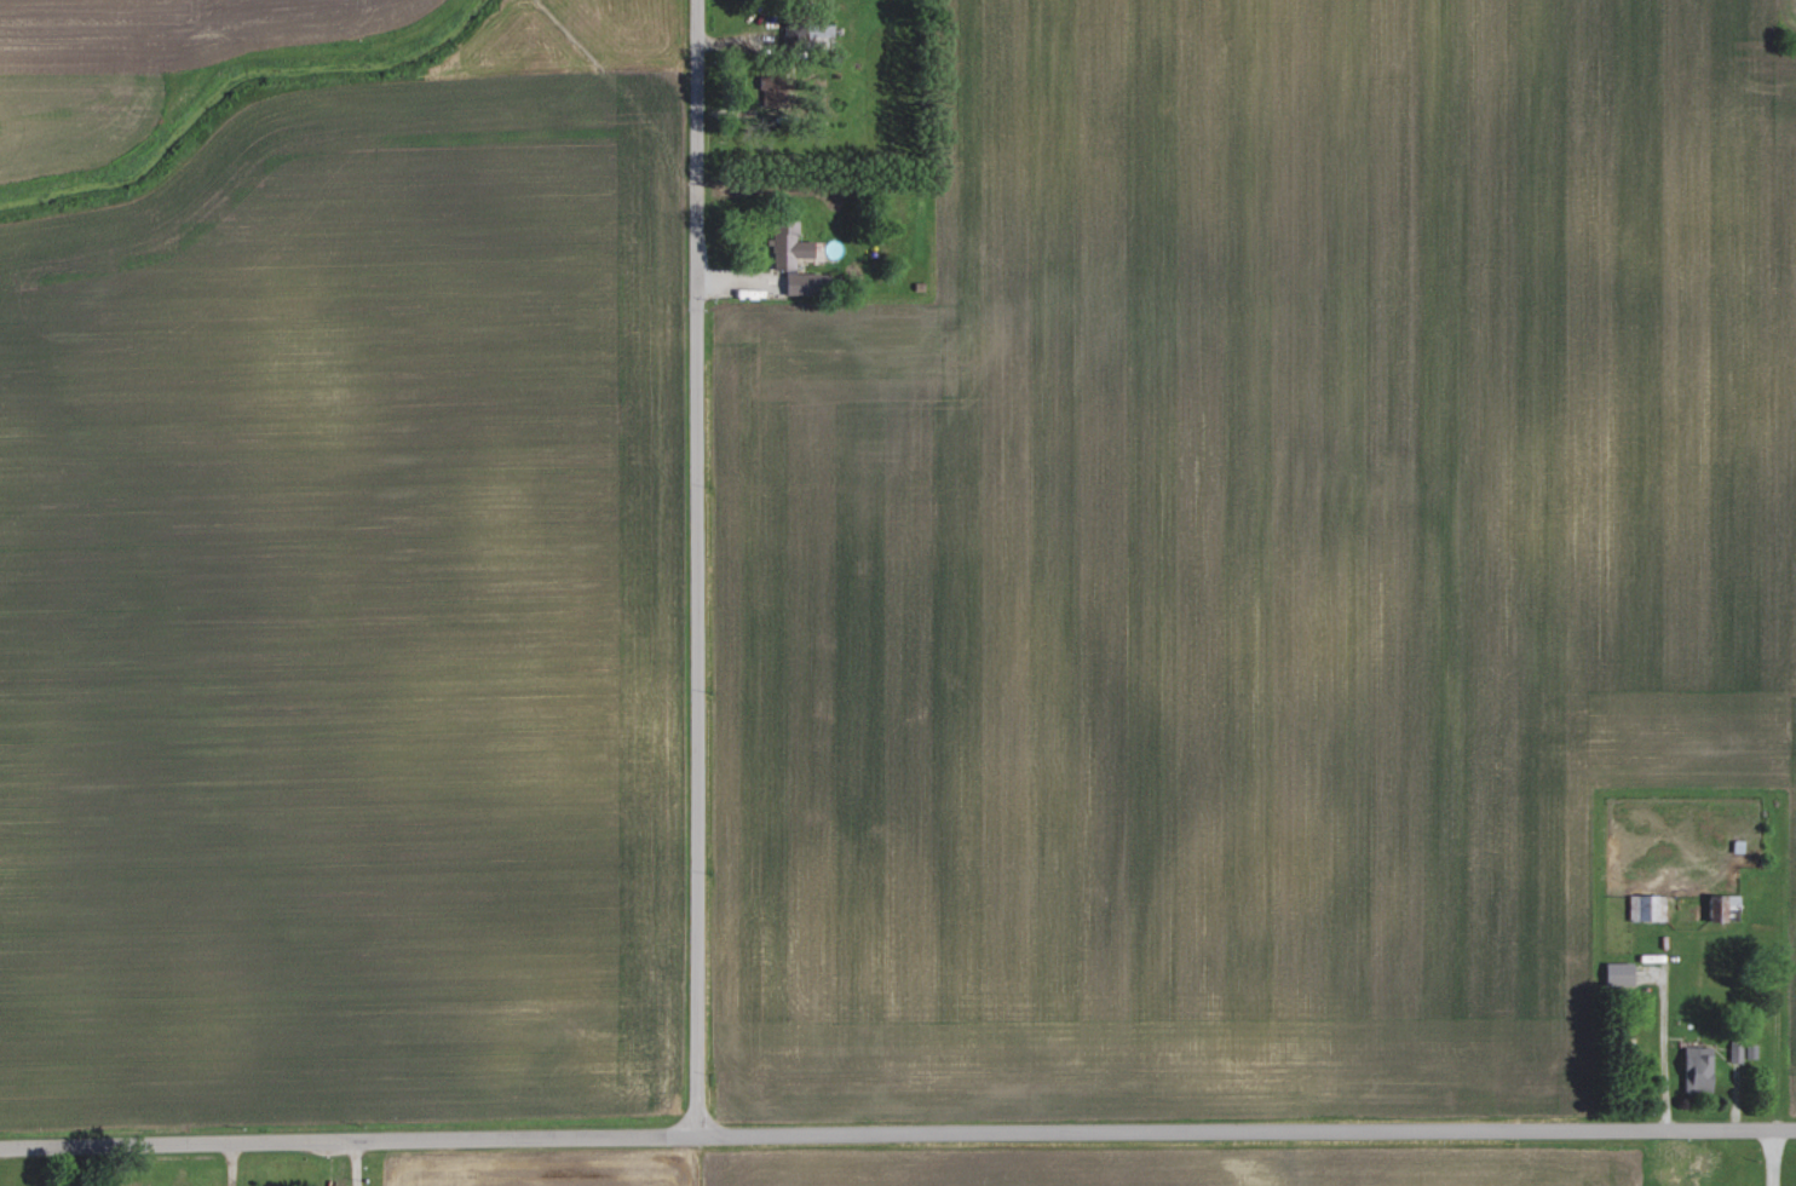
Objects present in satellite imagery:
building: (767, 90)
building: (787, 244)
building: (799, 282)
road: (698, 568)
building: (1721, 906)
building: (1646, 908)
building: (1617, 974)
building: (1696, 1069)
road: (897, 1134)
road: (1771, 1158)
road: (357, 1163)
road: (231, 1164)

